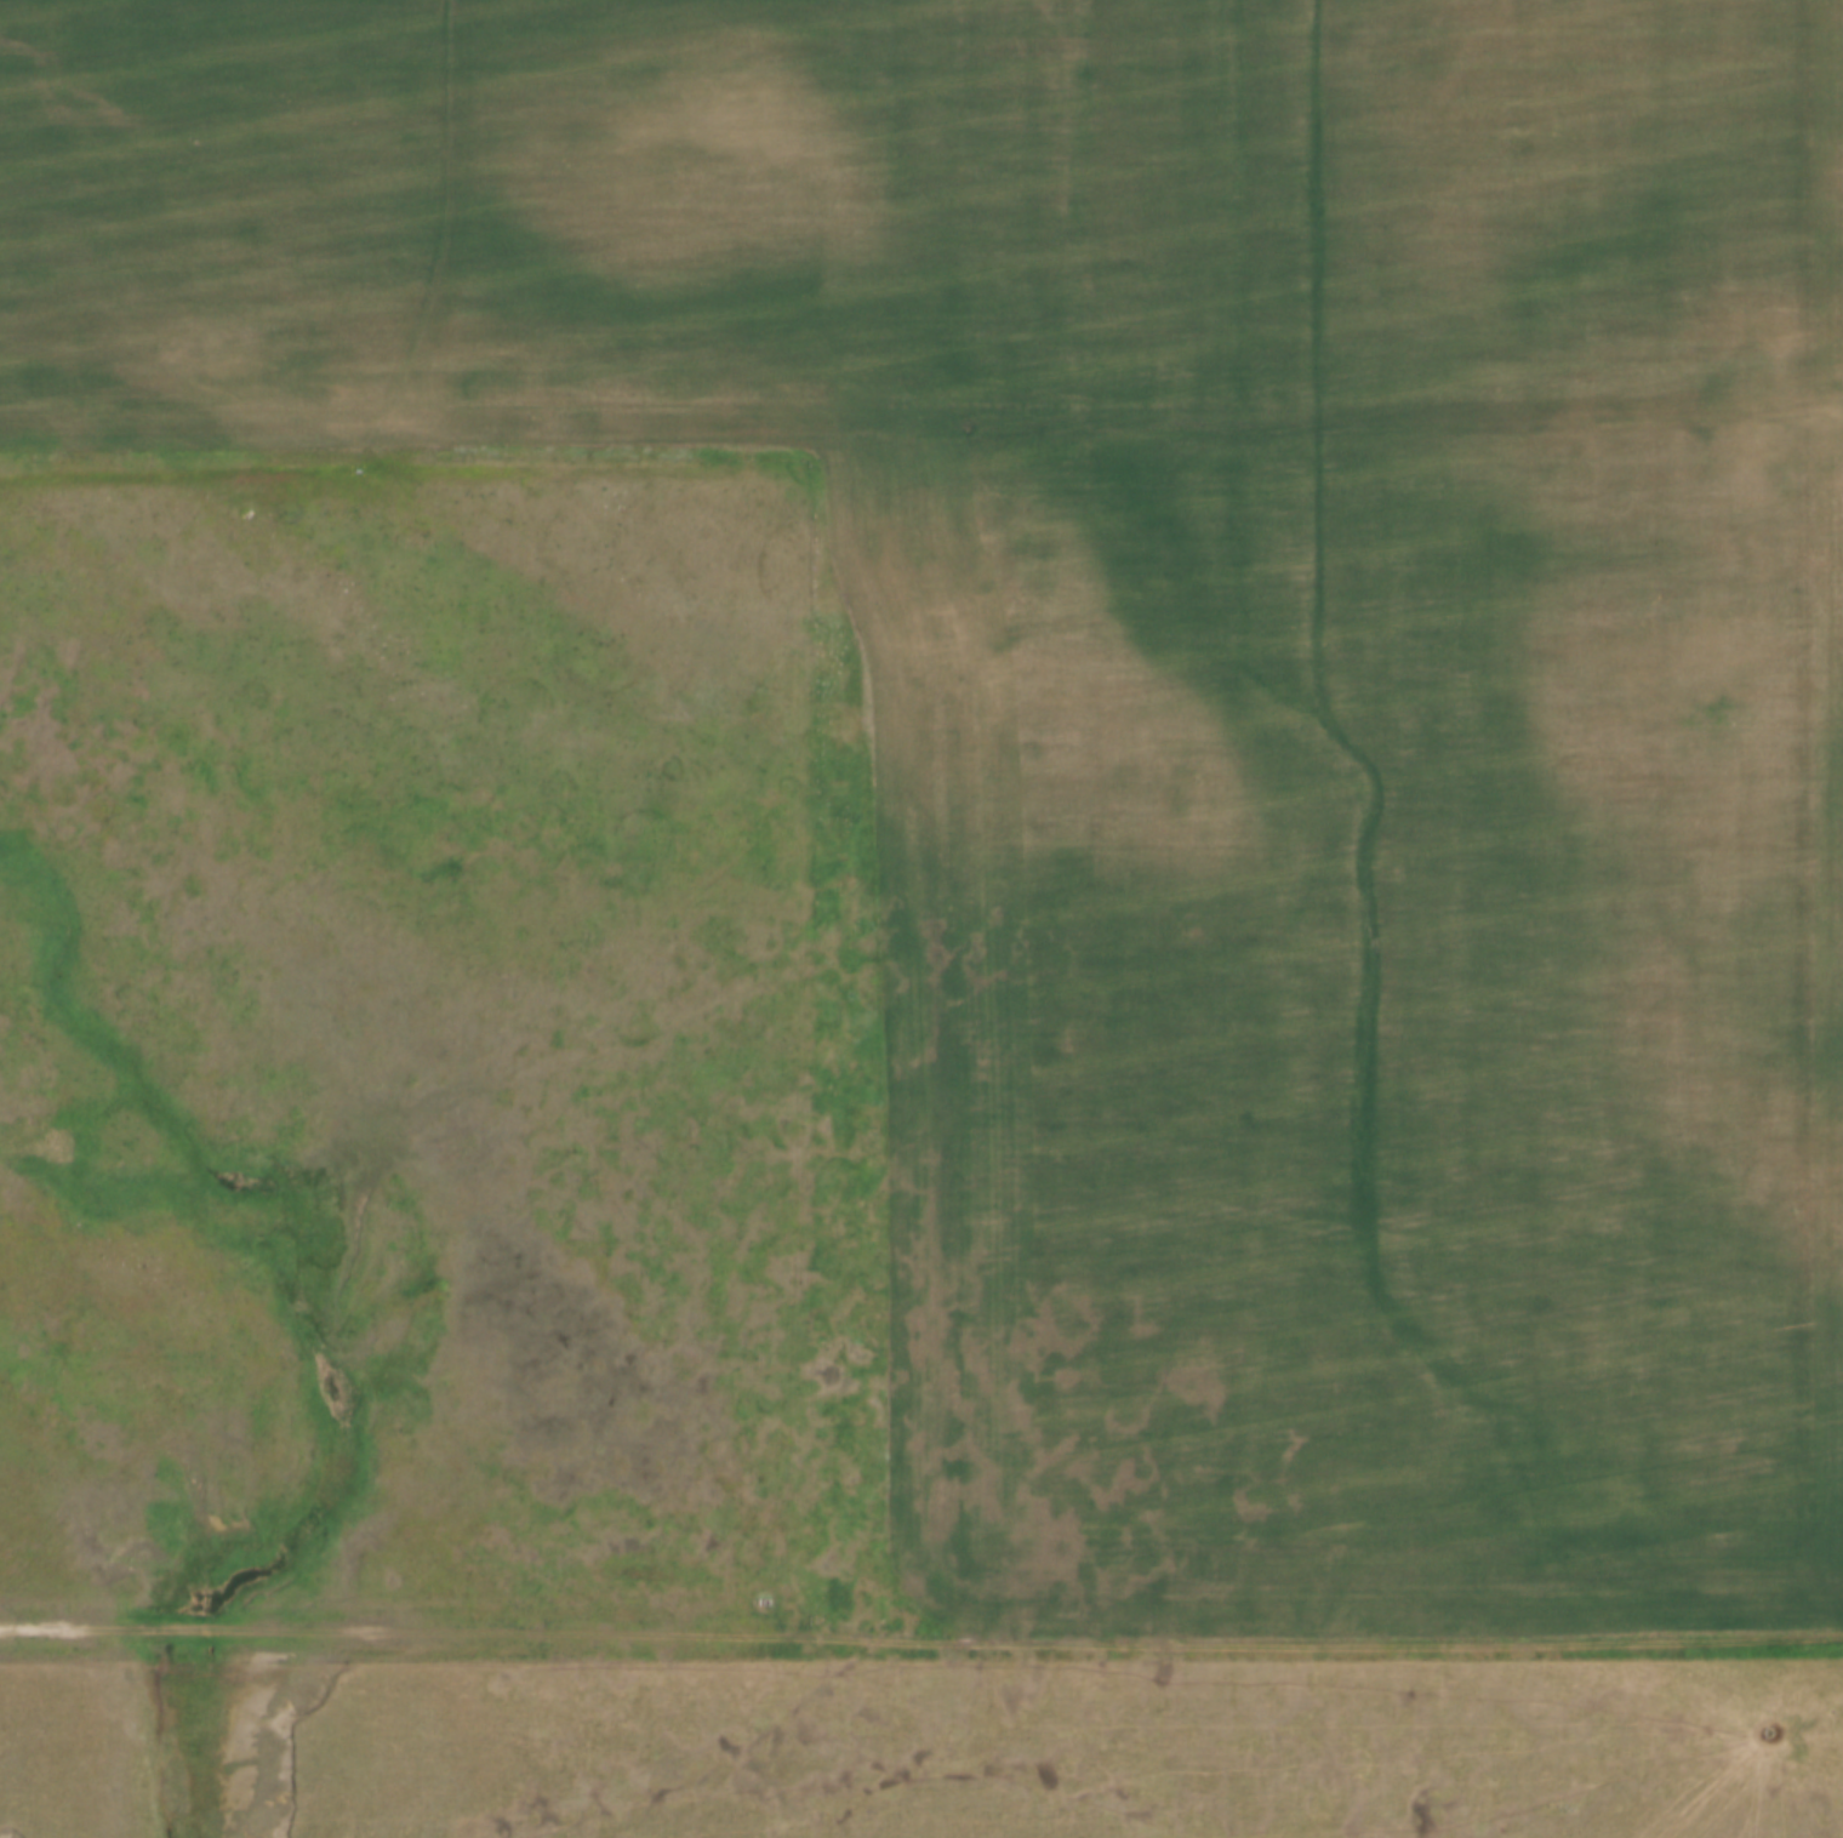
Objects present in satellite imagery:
road: (921, 1640)

